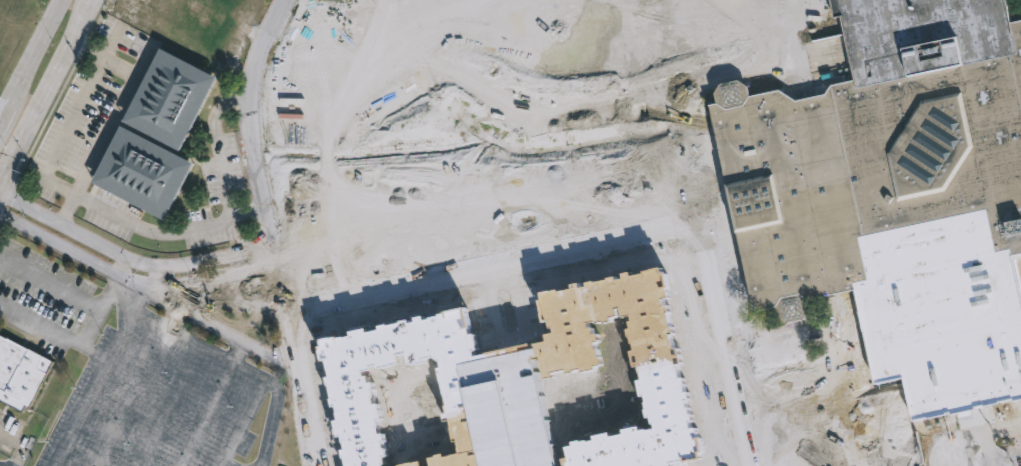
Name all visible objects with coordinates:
road: (670, 5)
road: (676, 8)
road: (722, 36)
road: (39, 43)
road: (682, 65)
road: (748, 70)
road: (44, 93)
building: (166, 102)
road: (9, 105)
road: (116, 105)
road: (220, 140)
building: (138, 174)
building: (897, 196)
traffic signals: (14, 199)
road: (700, 227)
road: (270, 230)
road: (152, 231)
road: (492, 264)
road: (138, 266)
road: (50, 284)
road: (140, 289)
road: (108, 293)
road: (58, 333)
road: (229, 339)
road: (243, 364)
building: (19, 372)
road: (99, 378)
road: (203, 412)
road: (917, 442)
road: (20, 444)
road: (88, 454)
road: (309, 456)
parking lot: (984, 459)

